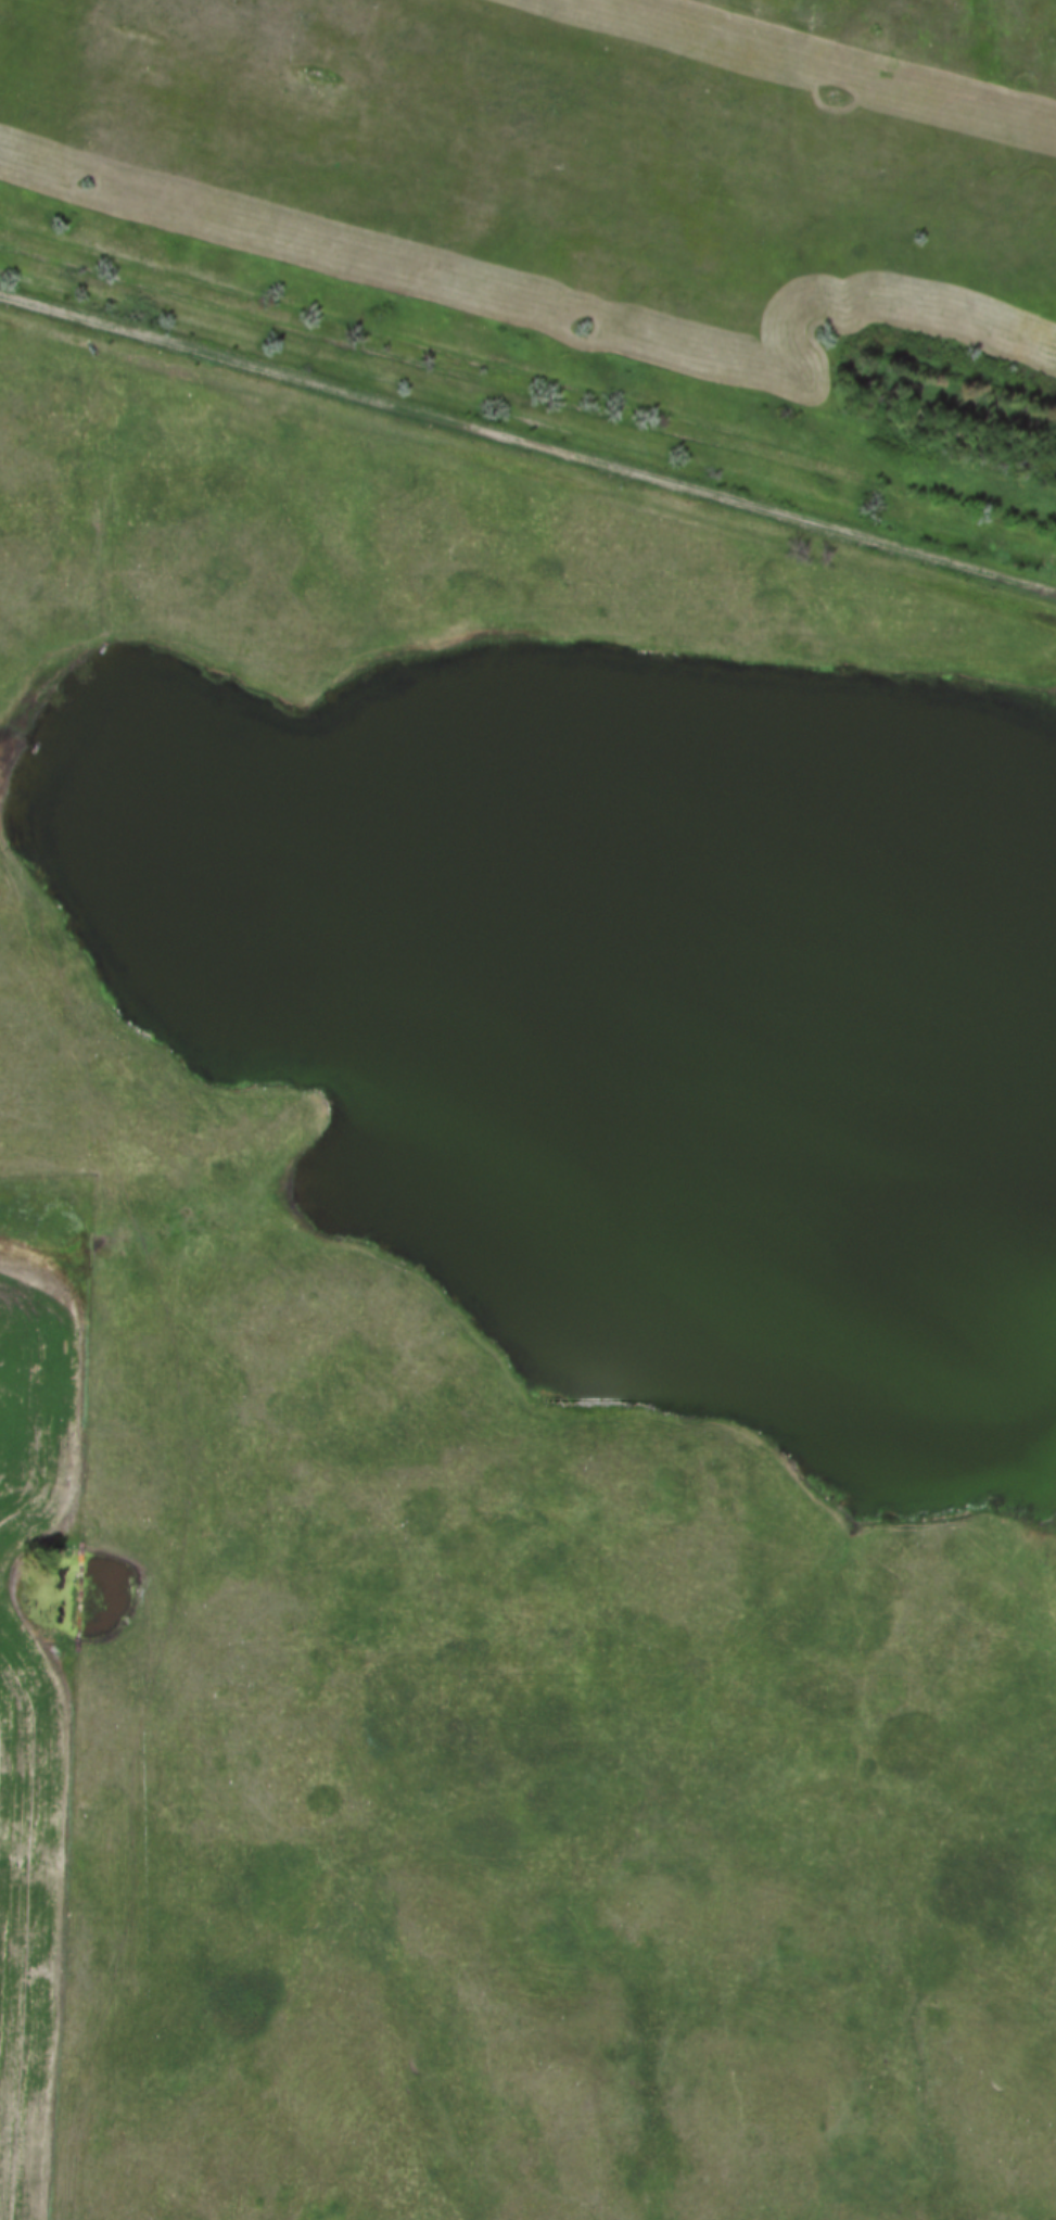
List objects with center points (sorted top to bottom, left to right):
road: (527, 444)

